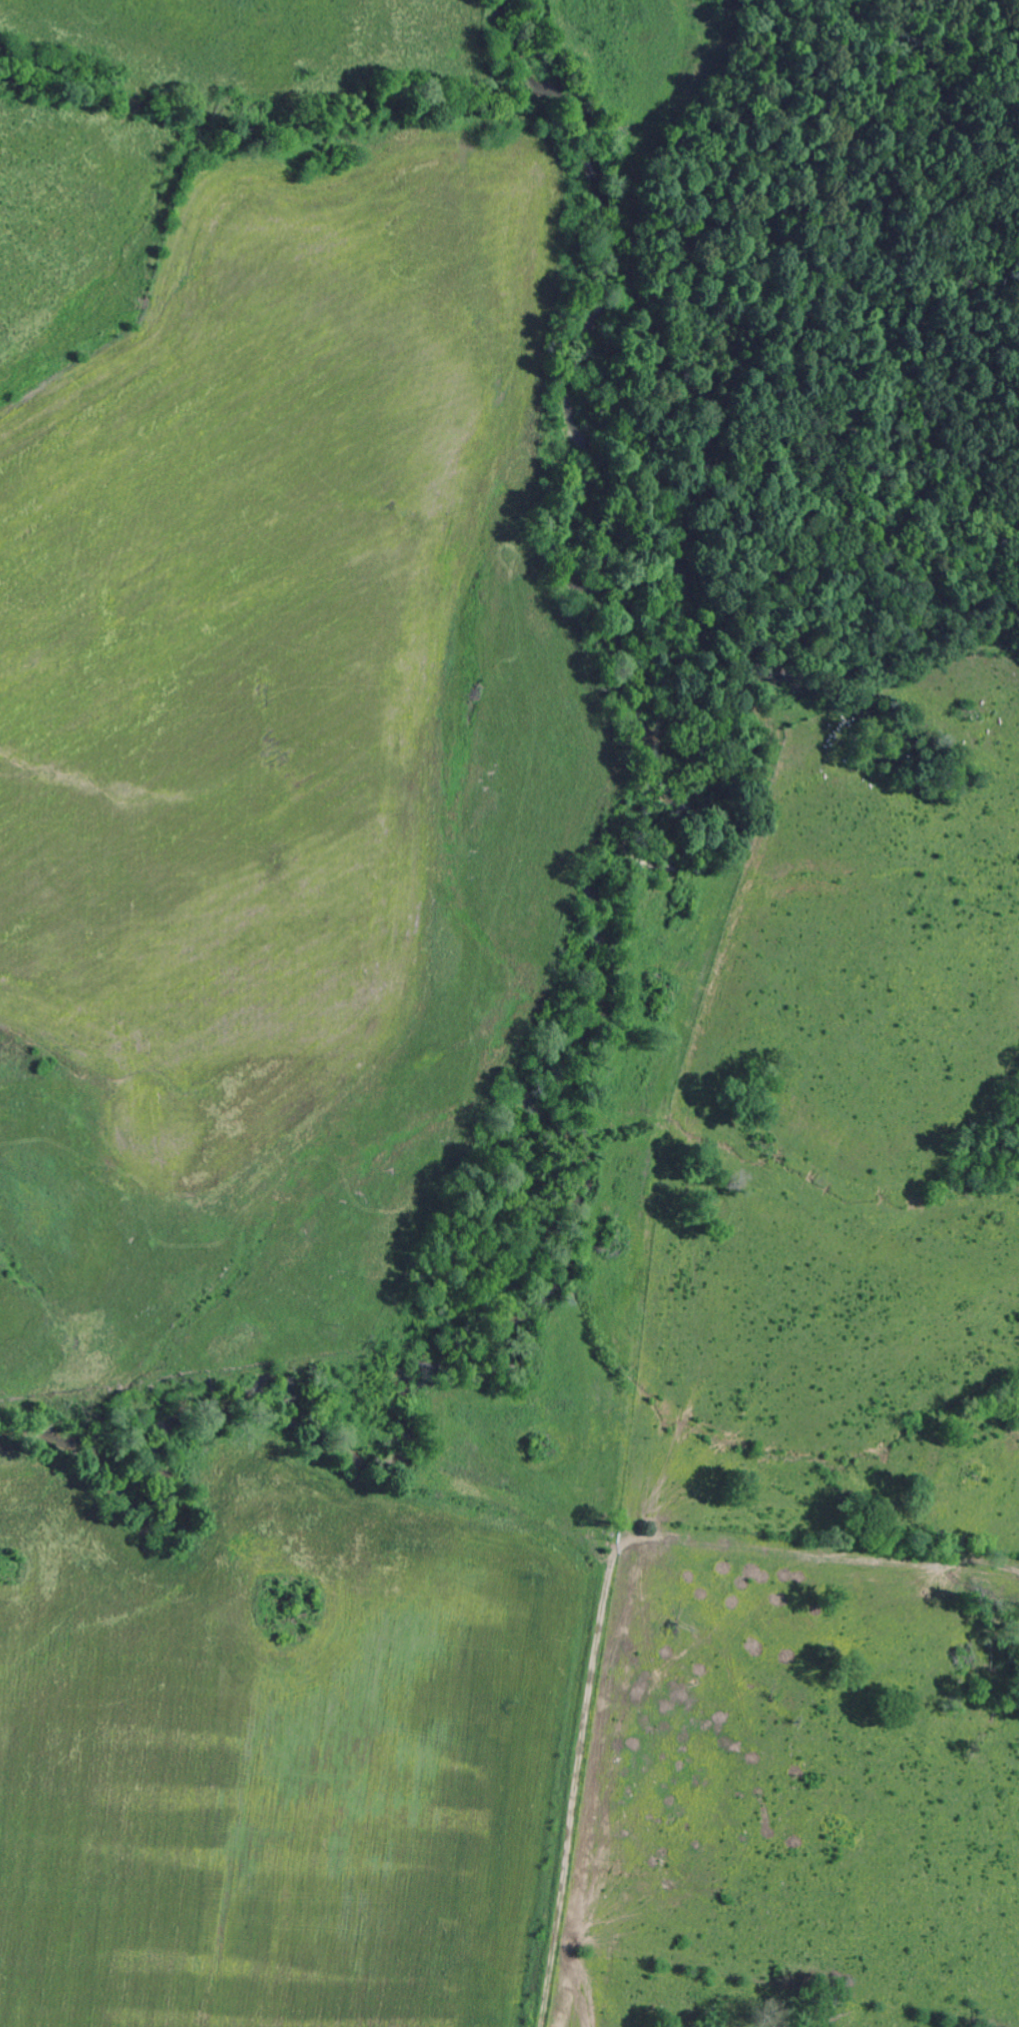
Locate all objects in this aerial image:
road: (607, 1587)

